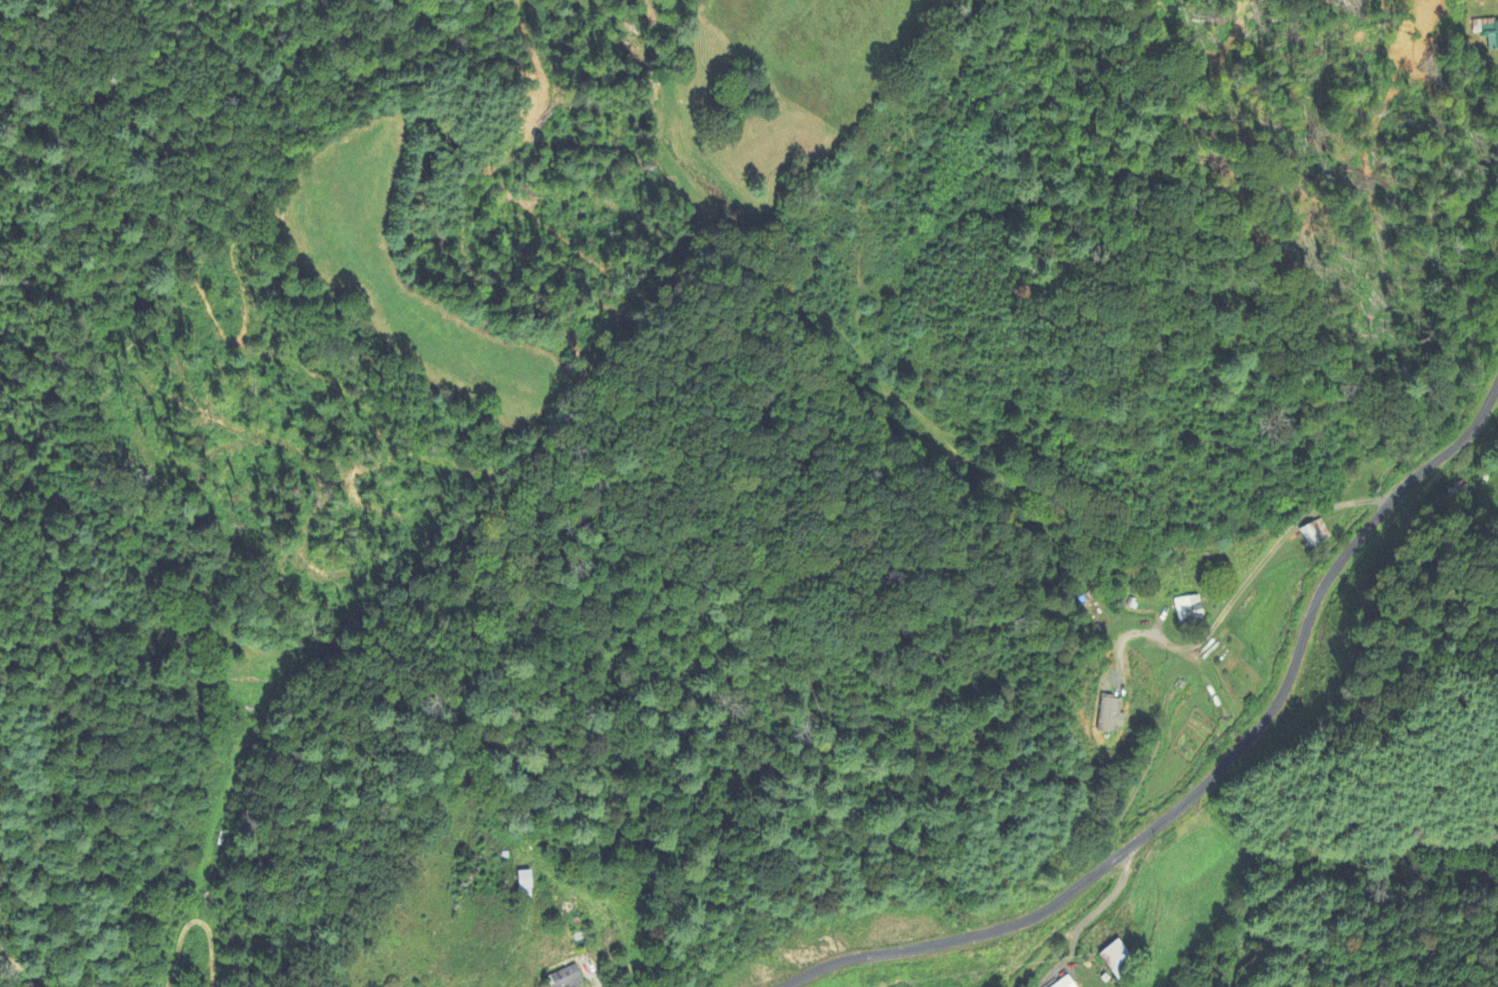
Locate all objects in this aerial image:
building: (1313, 538)
building: (1190, 609)
road: (1214, 778)
building: (529, 885)
building: (1119, 961)
building: (567, 978)
building: (1065, 983)

